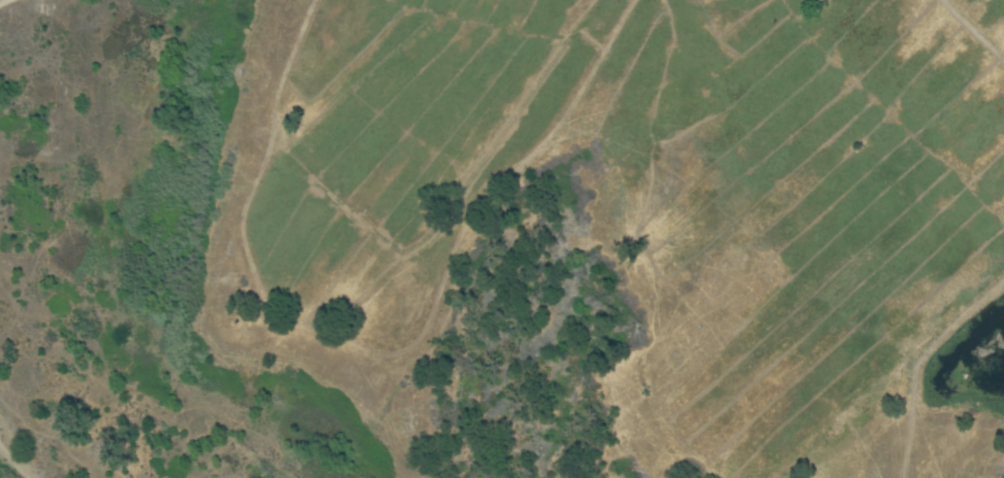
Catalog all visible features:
road: (12, 4)

